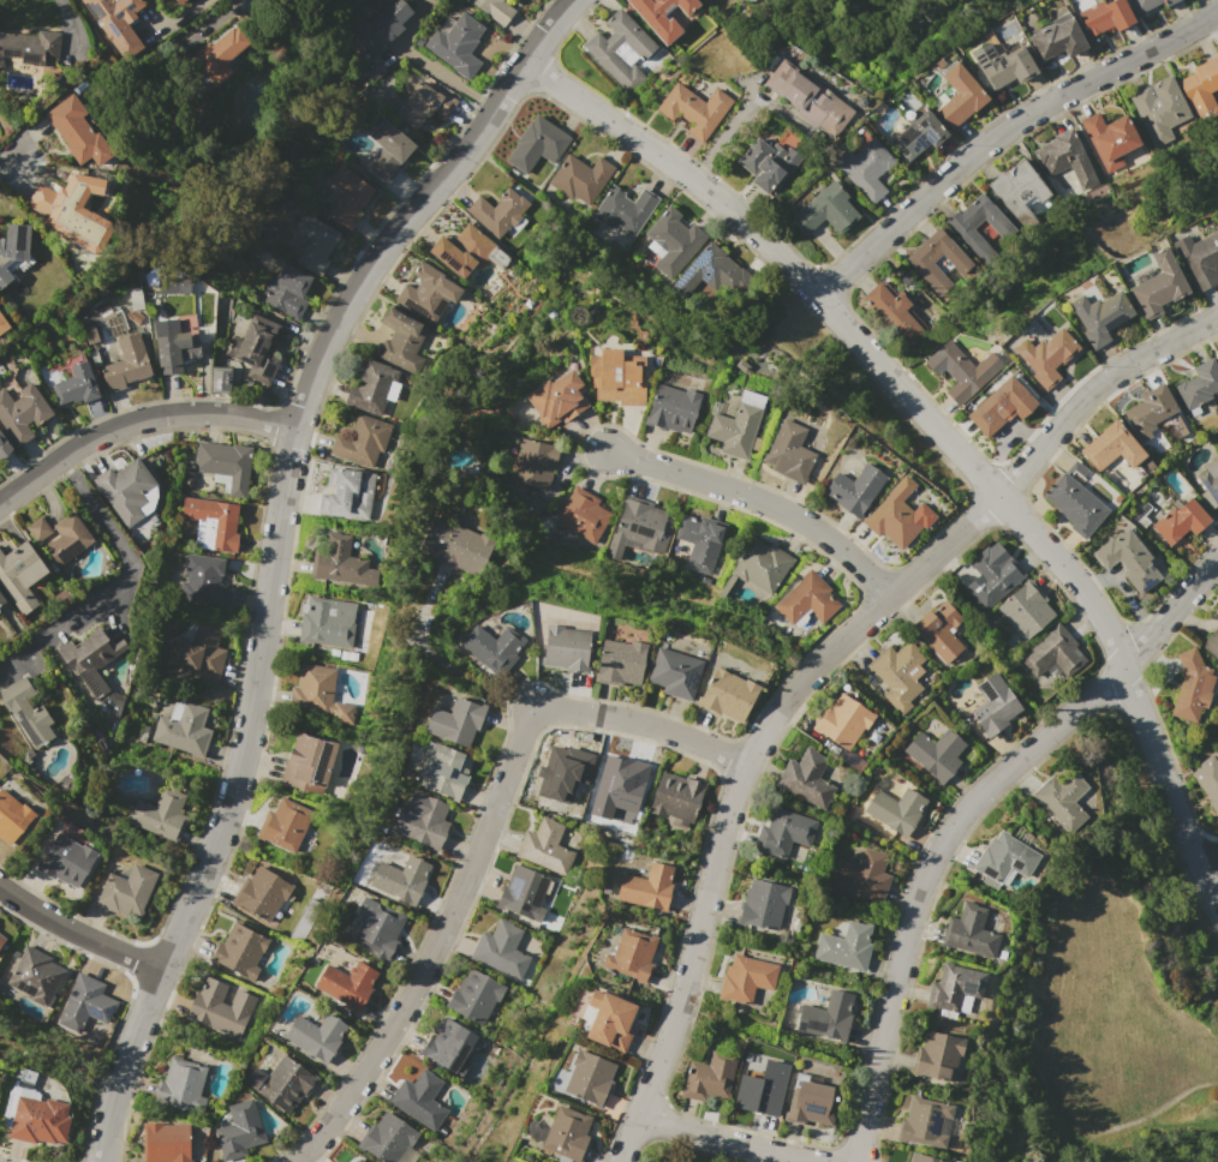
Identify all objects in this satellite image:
building: (179, 1)
building: (1145, 4)
building: (496, 10)
road: (64, 13)
building: (661, 16)
building: (1104, 16)
building: (117, 22)
building: (381, 24)
building: (1056, 41)
building: (456, 44)
building: (28, 47)
building: (220, 54)
building: (603, 54)
road: (426, 61)
building: (1007, 67)
building: (1201, 88)
building: (960, 96)
building: (806, 98)
building: (425, 103)
building: (694, 108)
building: (1159, 108)
road: (733, 118)
building: (76, 132)
road: (1002, 133)
building: (918, 134)
building: (1111, 139)
building: (537, 144)
building: (388, 150)
building: (1065, 157)
road: (8, 161)
building: (765, 162)
building: (865, 169)
building: (581, 178)
building: (1019, 191)
building: (68, 194)
building: (348, 197)
building: (625, 208)
building: (497, 210)
building: (826, 210)
building: (965, 224)
building: (89, 236)
building: (13, 240)
building: (314, 242)
building: (671, 242)
building: (460, 250)
building: (1198, 258)
building: (919, 264)
building: (709, 275)
building: (171, 284)
building: (1158, 284)
building: (286, 289)
building: (429, 292)
building: (894, 315)
building: (1099, 316)
building: (2, 324)
building: (402, 341)
building: (174, 351)
building: (256, 352)
building: (1046, 355)
building: (1217, 357)
building: (124, 364)
building: (957, 371)
building: (617, 377)
building: (219, 379)
building: (74, 385)
building: (1198, 385)
building: (374, 388)
building: (557, 397)
building: (998, 407)
building: (671, 408)
building: (1150, 409)
building: (20, 412)
road: (136, 420)
road: (936, 429)
building: (733, 431)
building: (360, 441)
building: (1110, 447)
building: (4, 448)
building: (788, 453)
building: (533, 463)
building: (225, 466)
building: (1210, 480)
building: (124, 489)
building: (853, 489)
building: (350, 492)
road: (759, 501)
building: (531, 502)
building: (1073, 503)
building: (584, 514)
building: (896, 515)
building: (213, 519)
building: (1178, 521)
building: (639, 527)
building: (36, 528)
building: (65, 539)
building: (697, 541)
building: (456, 545)
road: (123, 551)
road: (271, 552)
building: (334, 558)
building: (1127, 561)
building: (762, 564)
building: (18, 569)
building: (987, 574)
building: (204, 580)
building: (806, 597)
building: (1, 600)
building: (1023, 610)
building: (1216, 610)
building: (326, 623)
building: (941, 629)
building: (490, 643)
building: (566, 643)
building: (1211, 643)
road: (25, 645)
building: (197, 655)
building: (1053, 655)
building: (85, 658)
building: (619, 661)
road: (440, 663)
road: (812, 666)
building: (675, 671)
building: (900, 672)
building: (1189, 689)
building: (312, 690)
building: (726, 691)
building: (987, 702)
building: (28, 714)
building: (454, 720)
building: (841, 720)
building: (183, 732)
building: (936, 754)
building: (306, 767)
building: (562, 767)
building: (446, 771)
building: (623, 773)
building: (805, 777)
building: (1207, 780)
building: (676, 793)
building: (1064, 798)
building: (894, 810)
road: (960, 816)
building: (157, 817)
building: (11, 819)
building: (420, 820)
building: (782, 828)
building: (283, 829)
building: (545, 844)
road: (478, 849)
building: (1002, 861)
building: (62, 862)
road: (1210, 865)
building: (399, 875)
building: (861, 875)
building: (647, 884)
building: (524, 891)
building: (124, 897)
building: (261, 899)
building: (762, 904)
building: (969, 928)
building: (378, 932)
road: (77, 938)
building: (0, 940)
building: (843, 946)
building: (501, 948)
building: (632, 952)
building: (237, 957)
building: (744, 978)
building: (34, 980)
building: (346, 987)
building: (951, 987)
building: (474, 995)
park: (1107, 1008)
building: (211, 1013)
building: (83, 1014)
building: (826, 1016)
building: (610, 1022)
building: (315, 1037)
building: (446, 1044)
building: (937, 1053)
building: (706, 1074)
building: (589, 1077)
building: (282, 1084)
building: (180, 1086)
building: (763, 1088)
building: (419, 1098)
building: (808, 1102)
road: (1164, 1102)
building: (924, 1119)
building: (35, 1125)
building: (567, 1131)
building: (238, 1133)
road: (733, 1137)
building: (387, 1139)
building: (163, 1144)
building: (918, 1156)
building: (354, 1160)
building: (358, 1160)
building: (667, 1160)

